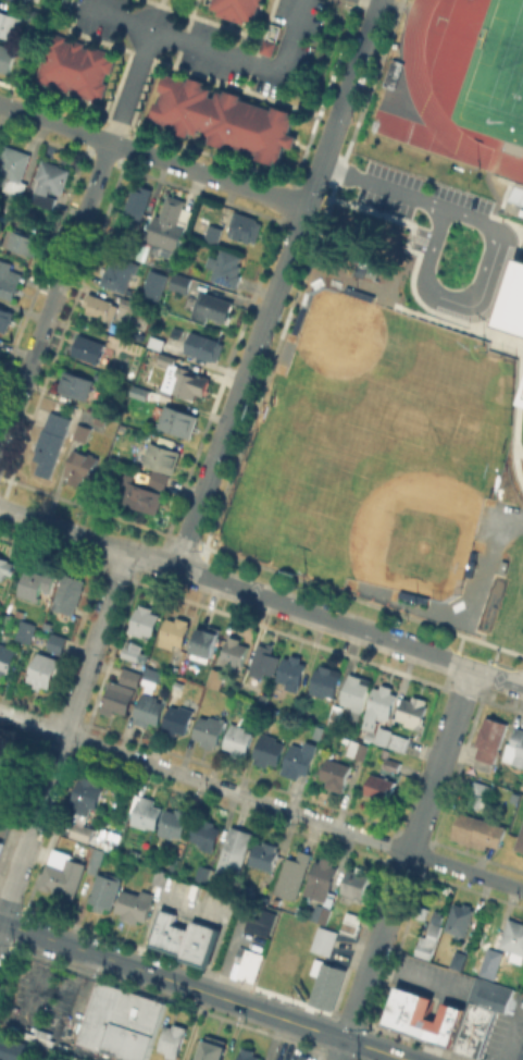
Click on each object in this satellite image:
road: (379, 0)
building: (23, 1)
building: (236, 8)
building: (36, 14)
road: (115, 19)
building: (10, 24)
road: (196, 45)
building: (265, 46)
building: (7, 57)
park: (500, 60)
building: (72, 65)
stadium: (477, 69)
building: (389, 73)
park: (494, 75)
track: (433, 108)
building: (222, 115)
track: (521, 151)
road: (153, 156)
building: (13, 174)
building: (48, 183)
road: (386, 184)
building: (515, 196)
building: (138, 200)
building: (520, 210)
building: (169, 225)
building: (241, 227)
building: (213, 233)
road: (511, 237)
building: (21, 242)
park: (332, 262)
building: (372, 266)
building: (225, 268)
building: (359, 270)
building: (370, 272)
building: (121, 273)
road: (427, 273)
building: (8, 279)
building: (180, 282)
building: (152, 283)
road: (279, 284)
building: (358, 293)
road: (54, 294)
building: (511, 300)
building: (130, 304)
building: (209, 305)
building: (101, 306)
building: (5, 318)
building: (297, 321)
building: (154, 344)
building: (202, 345)
park: (345, 346)
building: (171, 347)
building: (0, 348)
building: (89, 348)
park: (284, 352)
building: (184, 378)
building: (76, 383)
building: (138, 392)
building: (520, 395)
building: (178, 420)
building: (82, 431)
building: (51, 440)
building: (162, 457)
building: (80, 466)
building: (159, 479)
building: (142, 496)
park: (407, 516)
park: (481, 523)
building: (469, 563)
building: (501, 565)
building: (7, 566)
building: (35, 582)
park: (369, 588)
building: (69, 593)
building: (412, 595)
road: (261, 596)
park: (488, 602)
building: (145, 620)
building: (20, 627)
building: (174, 633)
building: (57, 642)
building: (206, 642)
building: (132, 652)
building: (233, 652)
building: (5, 657)
building: (264, 661)
building: (45, 669)
building: (290, 673)
building: (128, 676)
building: (149, 676)
building: (216, 677)
building: (326, 680)
building: (178, 685)
building: (357, 693)
building: (119, 697)
building: (382, 703)
building: (239, 704)
building: (149, 708)
building: (336, 711)
building: (413, 711)
building: (269, 713)
building: (178, 718)
building: (321, 727)
building: (210, 729)
road: (63, 737)
building: (369, 737)
building: (391, 738)
building: (238, 739)
building: (490, 742)
building: (267, 749)
building: (358, 749)
building: (521, 749)
building: (299, 757)
building: (389, 760)
road: (440, 760)
building: (8, 765)
building: (336, 774)
building: (379, 786)
building: (480, 792)
building: (86, 794)
building: (2, 799)
road: (261, 801)
building: (146, 811)
building: (173, 823)
building: (477, 830)
building: (84, 831)
building: (206, 834)
building: (105, 837)
building: (0, 841)
building: (520, 841)
building: (70, 845)
building: (235, 851)
building: (98, 854)
building: (265, 854)
building: (207, 873)
building: (294, 875)
building: (323, 875)
building: (63, 876)
building: (161, 876)
building: (356, 884)
building: (104, 889)
building: (135, 904)
building: (322, 913)
building: (353, 916)
building: (438, 917)
building: (258, 920)
building: (459, 920)
building: (350, 926)
building: (170, 935)
building: (325, 939)
building: (428, 940)
parking lot: (236, 942)
building: (201, 945)
building: (507, 947)
road: (374, 956)
building: (459, 959)
building: (248, 964)
building: (326, 983)
road: (203, 990)
building: (491, 991)
building: (424, 1013)
building: (120, 1020)
building: (476, 1028)
building: (172, 1039)
road: (511, 1039)
building: (14, 1048)
building: (212, 1048)
building: (248, 1053)
building: (303, 1056)

